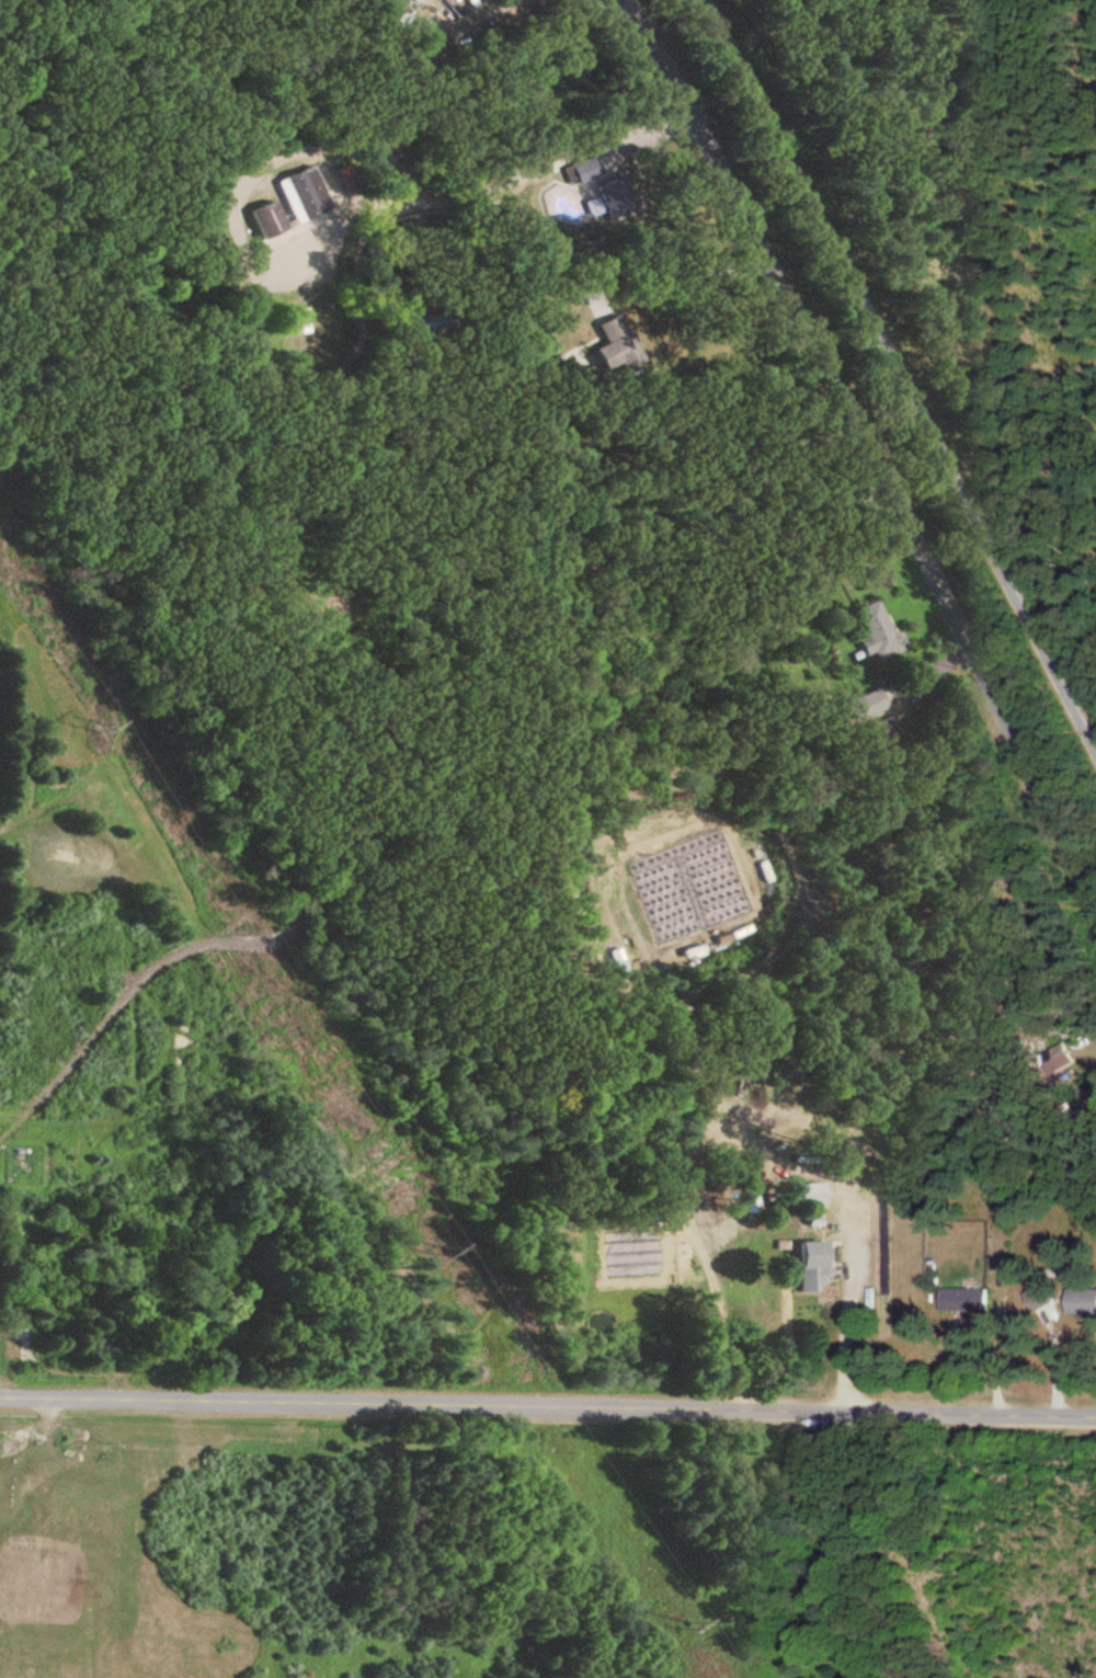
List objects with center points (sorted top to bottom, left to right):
building: (414, 1)
building: (596, 181)
road: (493, 187)
building: (305, 197)
building: (269, 222)
road: (680, 264)
building: (294, 322)
building: (616, 346)
road: (903, 367)
road: (865, 436)
building: (876, 632)
building: (872, 706)
power tower: (101, 726)
building: (813, 1198)
power tower: (443, 1247)
building: (818, 1268)
building: (1042, 1300)
building: (967, 1302)
building: (1083, 1303)
road: (845, 1336)
building: (23, 1337)
road: (547, 1409)
power tower: (685, 1625)

